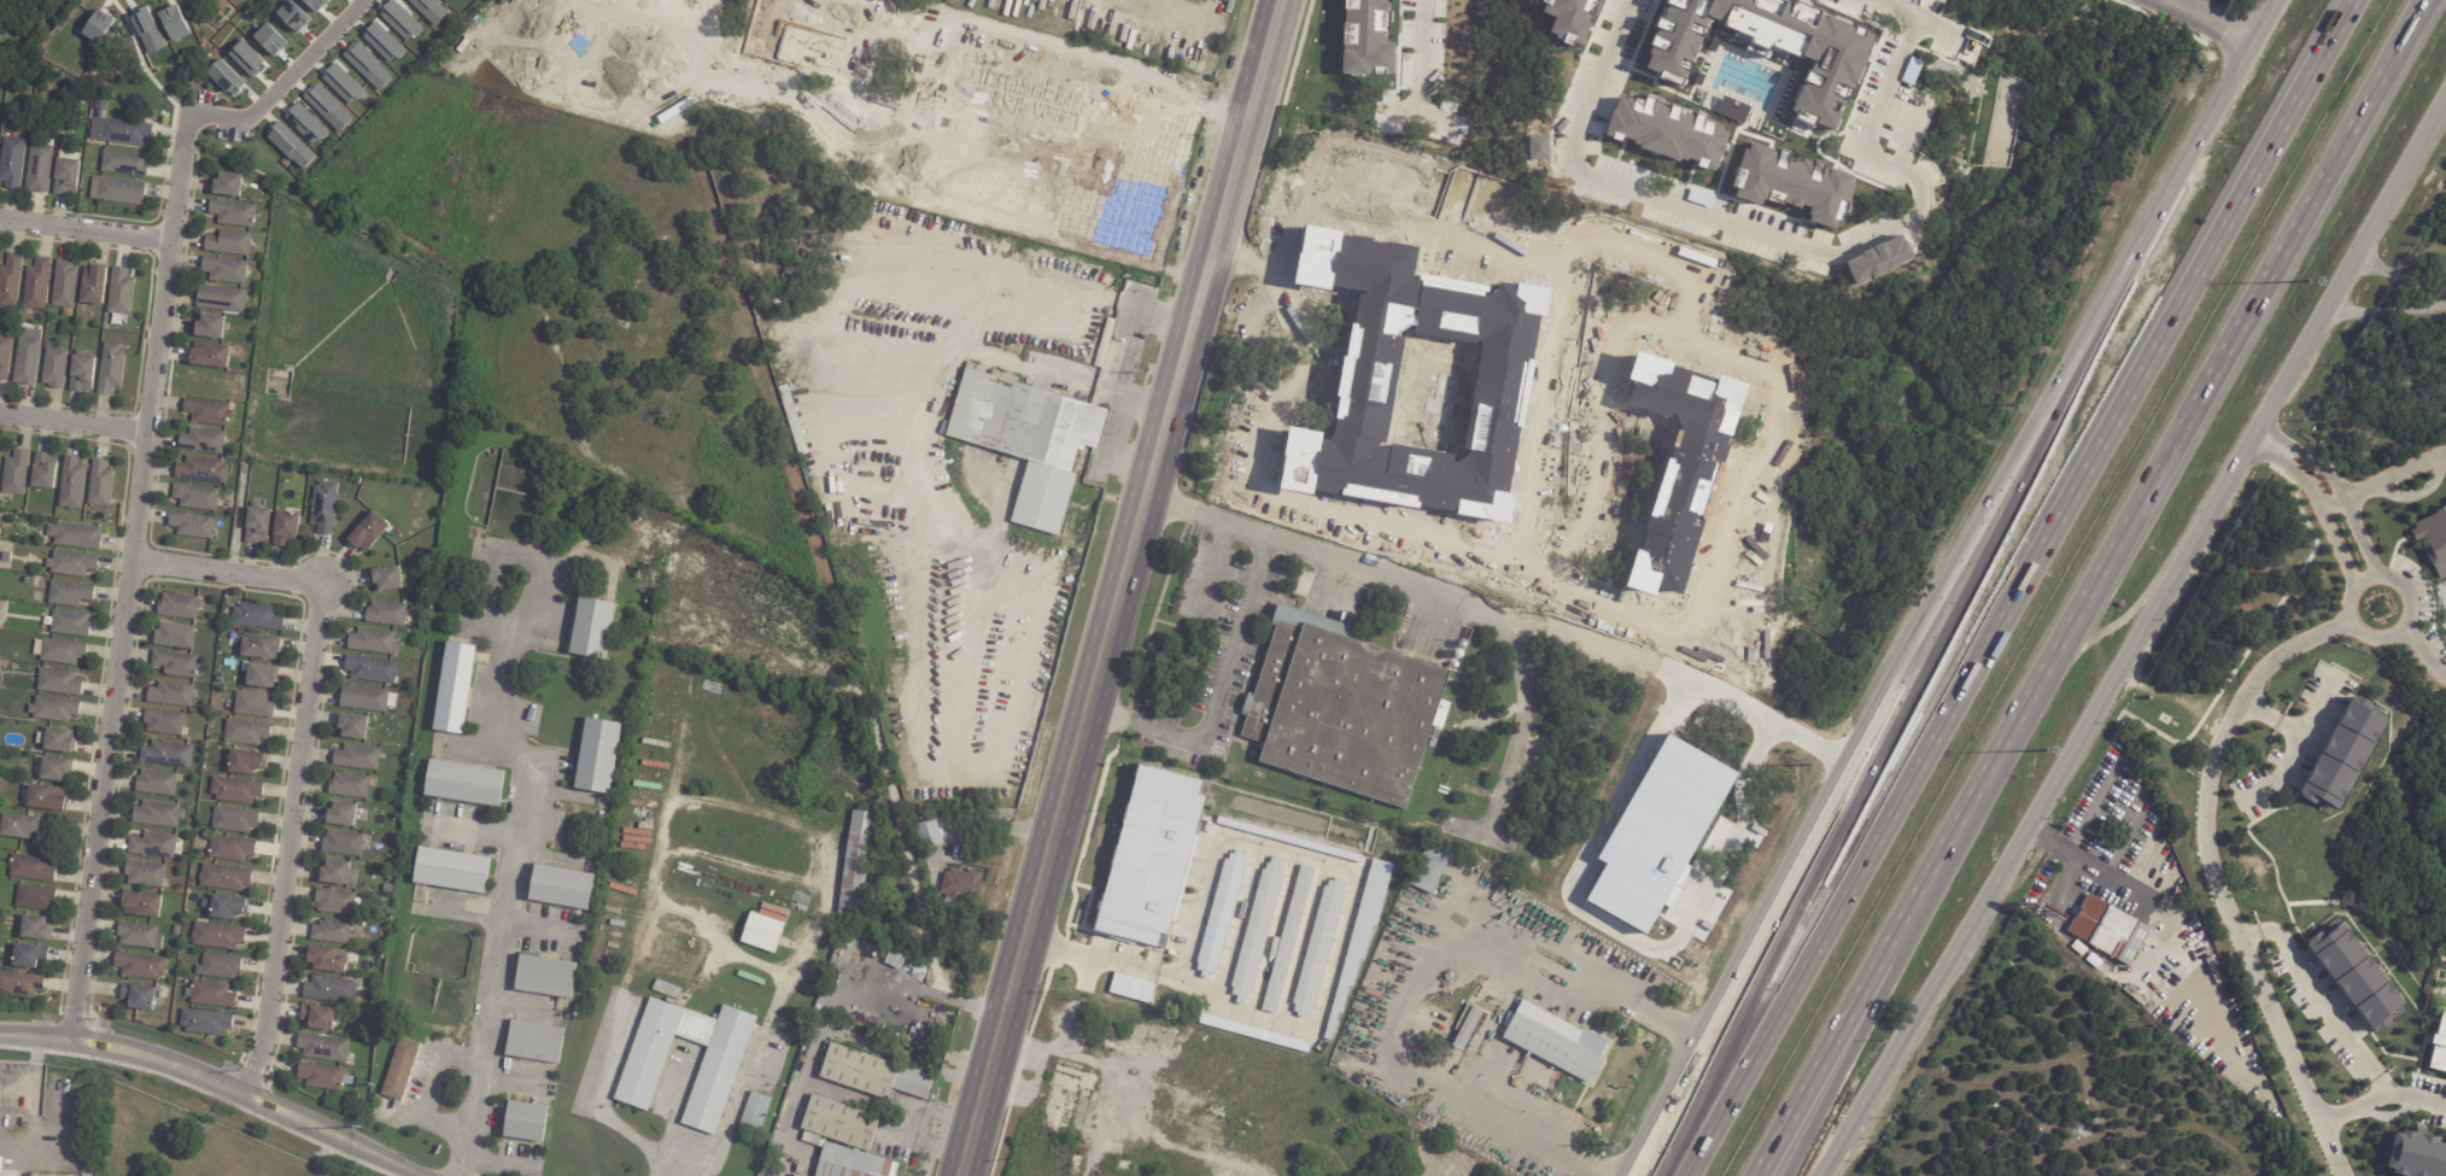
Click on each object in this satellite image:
building: (871, 0)
road: (2178, 1)
building: (317, 4)
building: (431, 10)
road: (1166, 10)
building: (293, 16)
building: (782, 17)
building: (400, 19)
building: (687, 21)
road: (2214, 21)
building: (175, 23)
building: (98, 27)
building: (776, 27)
building: (148, 30)
building: (912, 37)
building: (270, 39)
building: (384, 42)
road: (1435, 53)
building: (247, 58)
power tower: (2198, 58)
building: (867, 59)
building: (733, 60)
building: (368, 66)
building: (59, 77)
building: (226, 77)
road: (285, 80)
building: (343, 83)
parking lot: (206, 100)
building: (328, 107)
road: (932, 117)
building: (306, 123)
building: (115, 128)
parking lot: (232, 134)
building: (868, 136)
building: (291, 146)
road: (1877, 153)
building: (824, 158)
building: (122, 162)
building: (11, 163)
building: (39, 169)
building: (66, 174)
road: (1608, 182)
building: (222, 183)
building: (115, 188)
road: (961, 207)
building: (229, 212)
road: (84, 232)
building: (228, 242)
road: (1240, 256)
road: (861, 268)
building: (224, 269)
building: (792, 276)
road: (2400, 279)
building: (10, 282)
building: (36, 286)
building: (64, 286)
road: (1063, 286)
building: (93, 287)
building: (119, 293)
building: (221, 299)
building: (1111, 312)
road: (2387, 312)
road: (1129, 317)
building: (209, 327)
road: (1301, 330)
building: (1105, 343)
building: (210, 355)
building: (4, 357)
building: (25, 359)
building: (53, 367)
building: (111, 369)
building: (82, 373)
power tower: (2014, 408)
building: (207, 413)
building: (794, 420)
road: (1601, 421)
road: (74, 423)
road: (1767, 438)
building: (1029, 439)
building: (201, 440)
road: (2301, 455)
building: (43, 469)
building: (201, 470)
building: (16, 473)
road: (2381, 479)
building: (72, 482)
building: (99, 484)
building: (195, 497)
road: (2313, 498)
building: (324, 507)
building: (192, 525)
building: (257, 526)
road: (1527, 526)
building: (286, 528)
building: (368, 532)
building: (75, 536)
road: (2358, 540)
building: (2433, 540)
building: (4, 555)
road: (1019, 562)
building: (71, 563)
road: (1213, 572)
road: (130, 575)
road: (1755, 575)
building: (385, 579)
road: (830, 585)
road: (1949, 585)
road: (1119, 587)
railway: (1140, 587)
road: (2018, 587)
road: (2089, 587)
road: (1429, 591)
building: (69, 593)
building: (179, 607)
building: (386, 613)
building: (257, 618)
building: (690, 618)
road: (2335, 619)
building: (69, 624)
road: (2398, 626)
road: (2407, 626)
road: (2340, 627)
building: (592, 628)
building: (172, 636)
road: (2400, 636)
road: (1720, 638)
road: (2135, 638)
building: (370, 640)
building: (1479, 642)
building: (261, 646)
building: (1491, 646)
building: (59, 651)
road: (2422, 653)
building: (175, 665)
building: (370, 669)
road: (2438, 669)
road: (1675, 674)
building: (261, 677)
building: (59, 681)
building: (665, 684)
building: (691, 684)
road: (1748, 685)
building: (453, 686)
building: (662, 692)
building: (700, 694)
building: (169, 695)
road: (1218, 697)
building: (365, 700)
building: (252, 704)
building: (660, 704)
road: (2316, 706)
building: (1342, 708)
building: (52, 709)
road: (2269, 715)
building: (656, 716)
building: (160, 720)
building: (352, 726)
building: (246, 733)
building: (58, 741)
road: (302, 743)
building: (164, 754)
building: (2342, 754)
building: (598, 756)
building: (356, 757)
building: (245, 762)
building: (52, 770)
road: (2278, 772)
building: (152, 780)
building: (464, 783)
building: (349, 786)
road: (1861, 788)
building: (233, 789)
building: (45, 800)
building: (1326, 802)
building: (156, 814)
building: (341, 815)
building: (232, 817)
road: (902, 823)
road: (985, 824)
building: (374, 826)
building: (17, 827)
road: (1480, 831)
building: (929, 835)
building: (1288, 838)
building: (150, 844)
building: (341, 844)
building: (228, 847)
building: (1152, 856)
road: (2093, 862)
road: (513, 864)
building: (855, 866)
building: (29, 868)
building: (1430, 870)
building: (450, 871)
building: (141, 872)
building: (334, 873)
building: (222, 876)
road: (1358, 878)
building: (562, 888)
building: (961, 889)
road: (2217, 891)
building: (34, 897)
building: (139, 902)
building: (334, 902)
building: (223, 905)
building: (622, 912)
building: (1221, 913)
road: (1236, 925)
building: (35, 929)
building: (1257, 929)
building: (2111, 931)
building: (332, 932)
building: (762, 934)
building: (1360, 934)
road: (1272, 935)
building: (139, 936)
building: (216, 936)
building: (628, 937)
building: (1287, 938)
road: (1301, 942)
building: (1318, 947)
building: (28, 956)
road: (1102, 959)
building: (327, 960)
road: (1452, 961)
building: (218, 966)
building: (140, 967)
building: (2217, 971)
building: (545, 976)
building: (2354, 976)
road: (852, 981)
building: (19, 984)
building: (749, 988)
building: (1131, 988)
building: (329, 990)
building: (666, 993)
building: (211, 995)
building: (139, 997)
road: (2324, 1000)
building: (317, 1018)
road: (1672, 1022)
building: (205, 1023)
building: (1468, 1026)
building: (1252, 1031)
building: (1555, 1040)
building: (533, 1041)
building: (2439, 1046)
building: (322, 1048)
building: (400, 1070)
building: (642, 1072)
building: (873, 1073)
building: (323, 1077)
road: (211, 1080)
road: (814, 1084)
road: (434, 1089)
road: (595, 1096)
road: (2381, 1100)
building: (412, 1111)
building: (756, 1112)
building: (526, 1122)
building: (839, 1123)
power tower: (364, 1124)
road: (913, 1124)
road: (1532, 1140)
power tower: (1620, 1153)
building: (2416, 1154)
road: (673, 1157)
building: (853, 1163)
building: (1, 1165)
building: (766, 1174)
building: (69, 1175)
building: (795, 1175)

